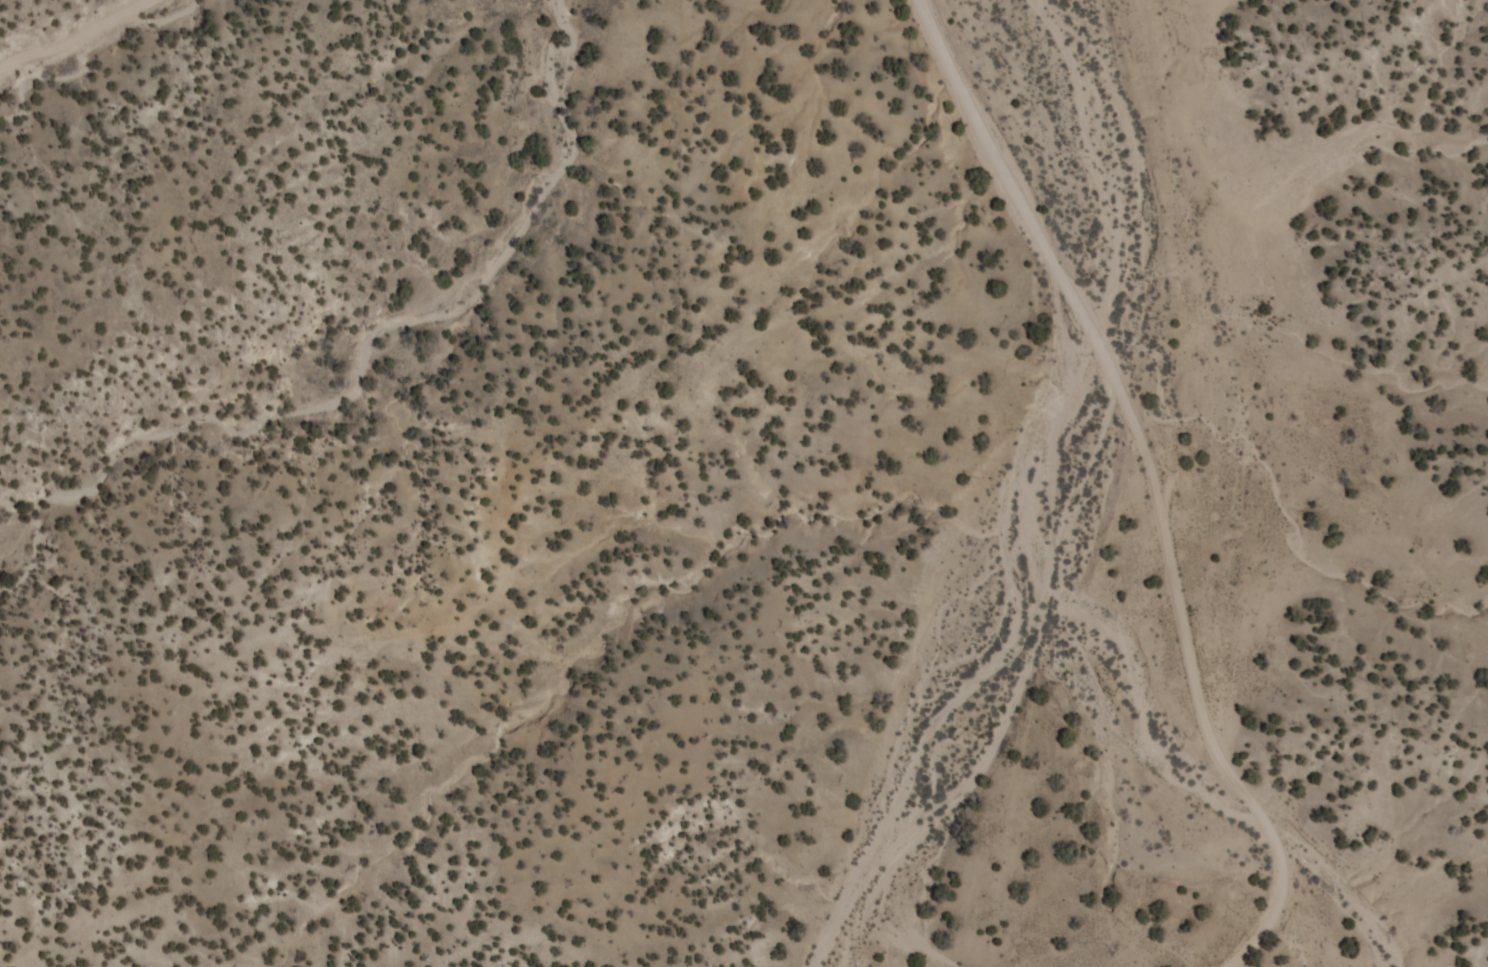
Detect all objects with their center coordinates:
road: (71, 35)
road: (1159, 479)

